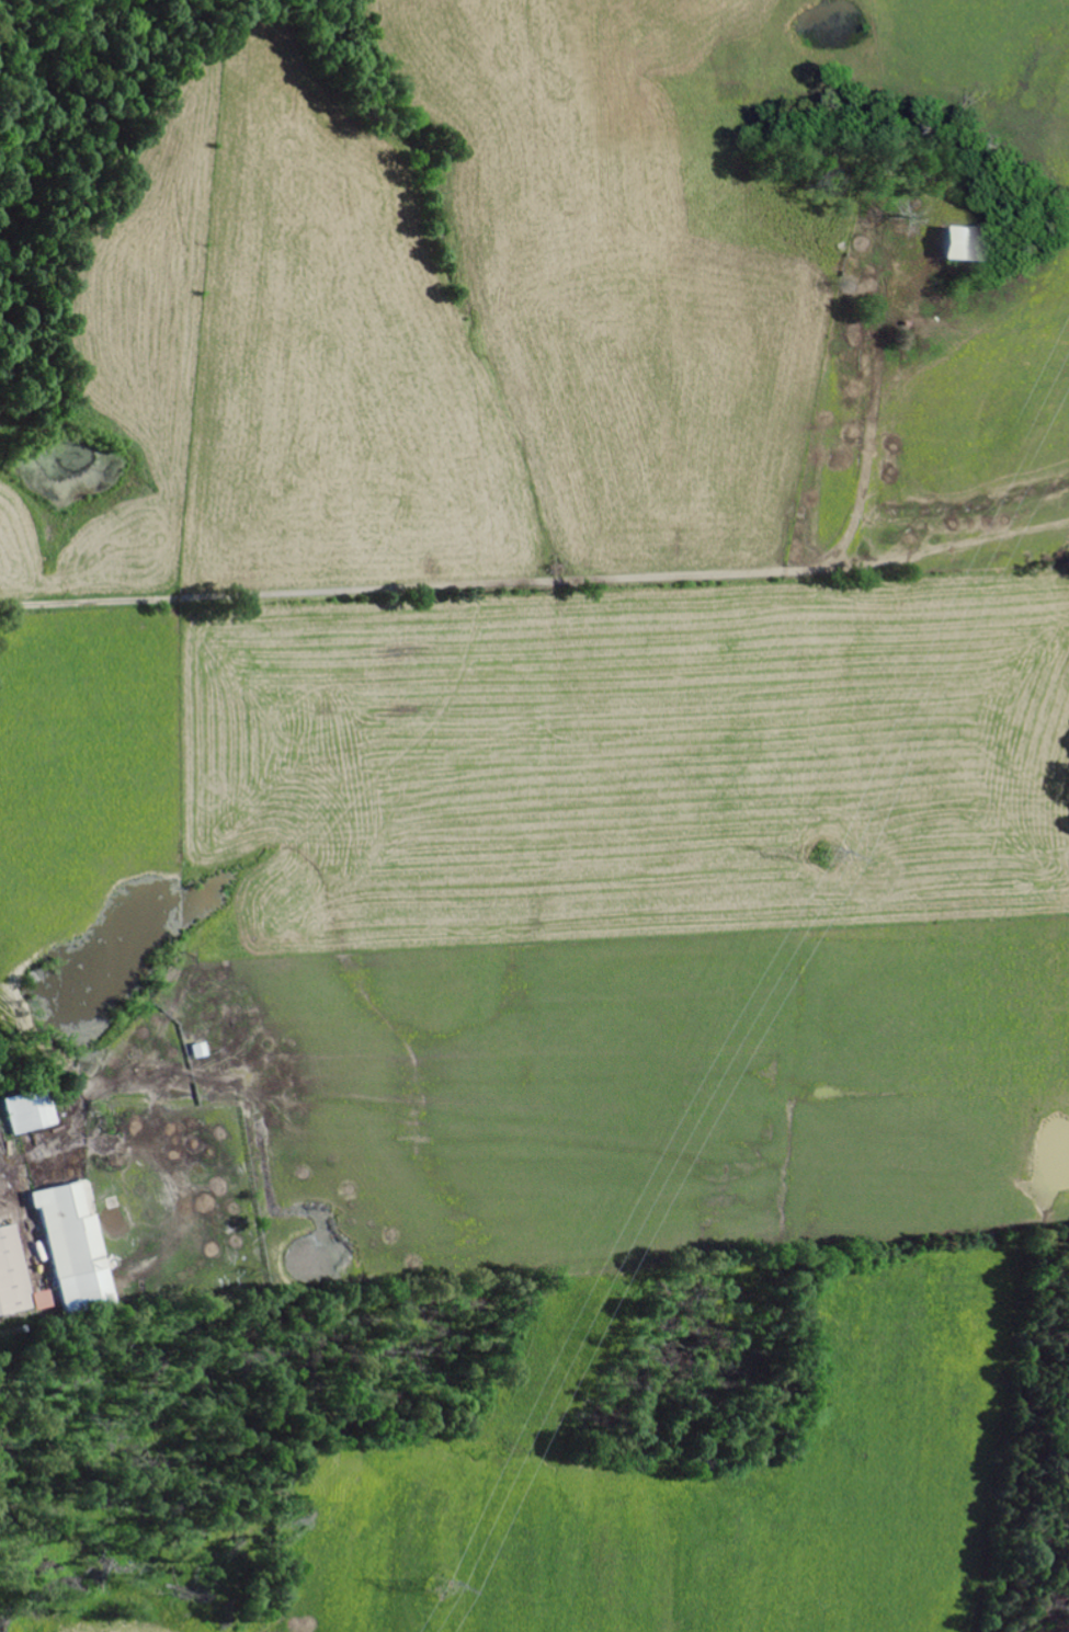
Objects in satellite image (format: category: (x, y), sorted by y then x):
building: (949, 244)
road: (414, 589)
power tower: (826, 856)
road: (570, 880)
building: (203, 1050)
building: (33, 1111)
building: (79, 1245)
building: (18, 1278)
power tower: (440, 1591)

